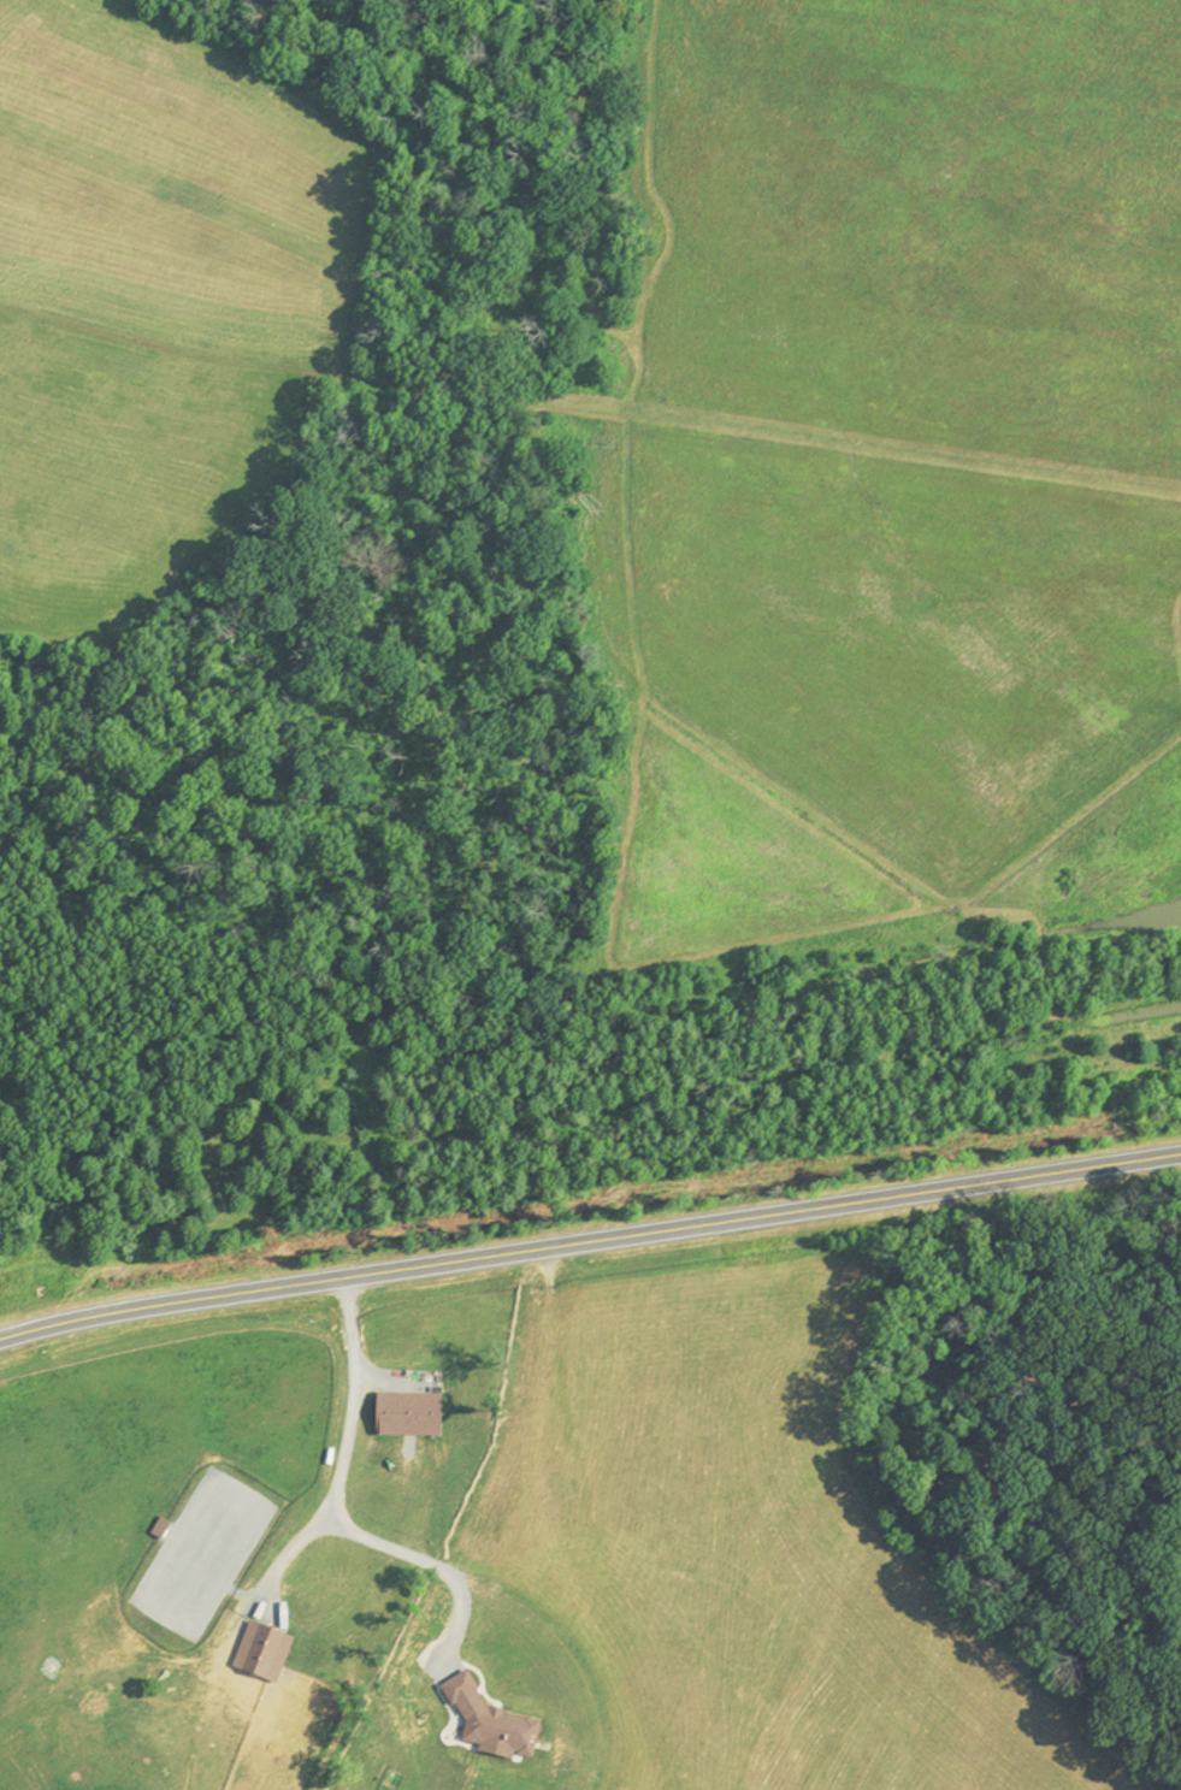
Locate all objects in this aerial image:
road: (589, 1230)
road: (333, 1493)
crop: (716, 1581)
building: (490, 1723)

